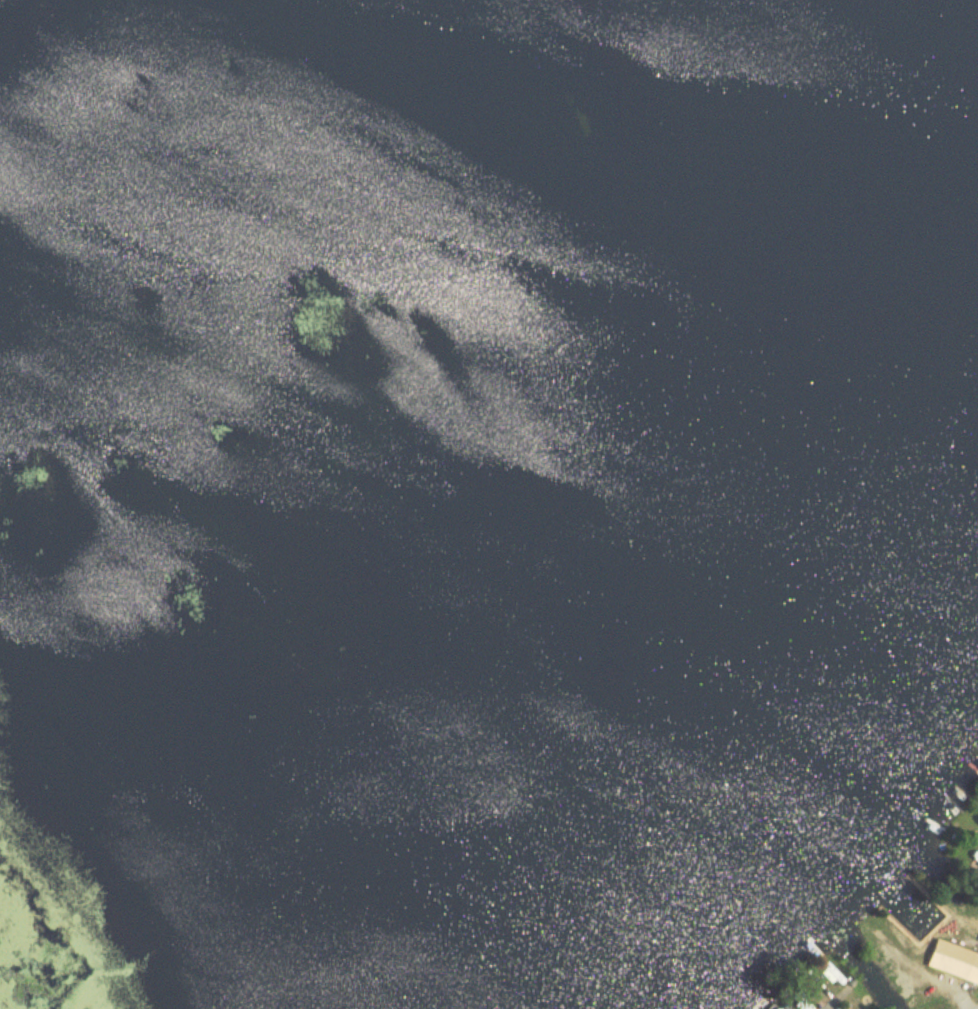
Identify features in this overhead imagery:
building: (648, 177)
building: (537, 760)
building: (709, 887)
building: (951, 962)
road: (835, 997)

